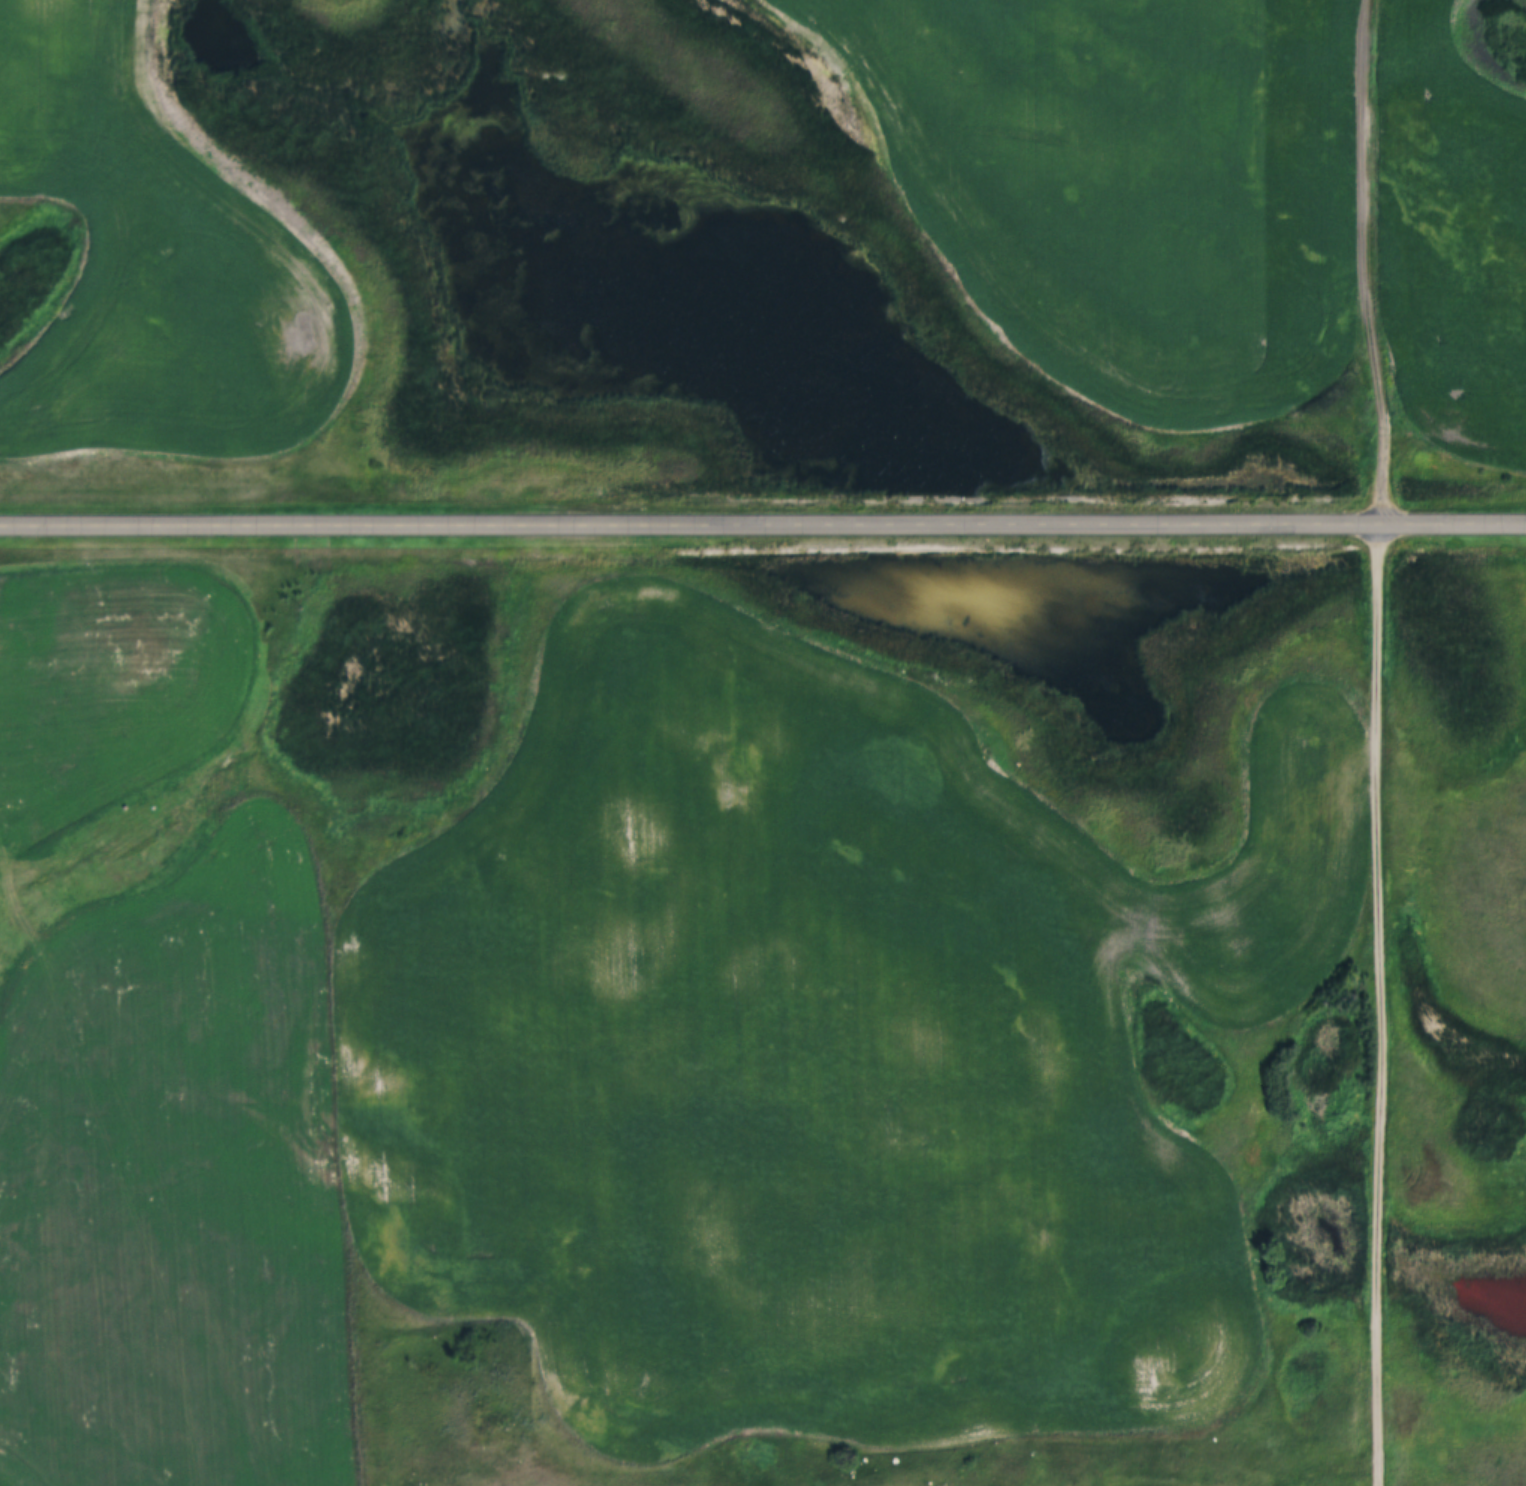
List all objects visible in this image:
road: (762, 524)
road: (1379, 742)

